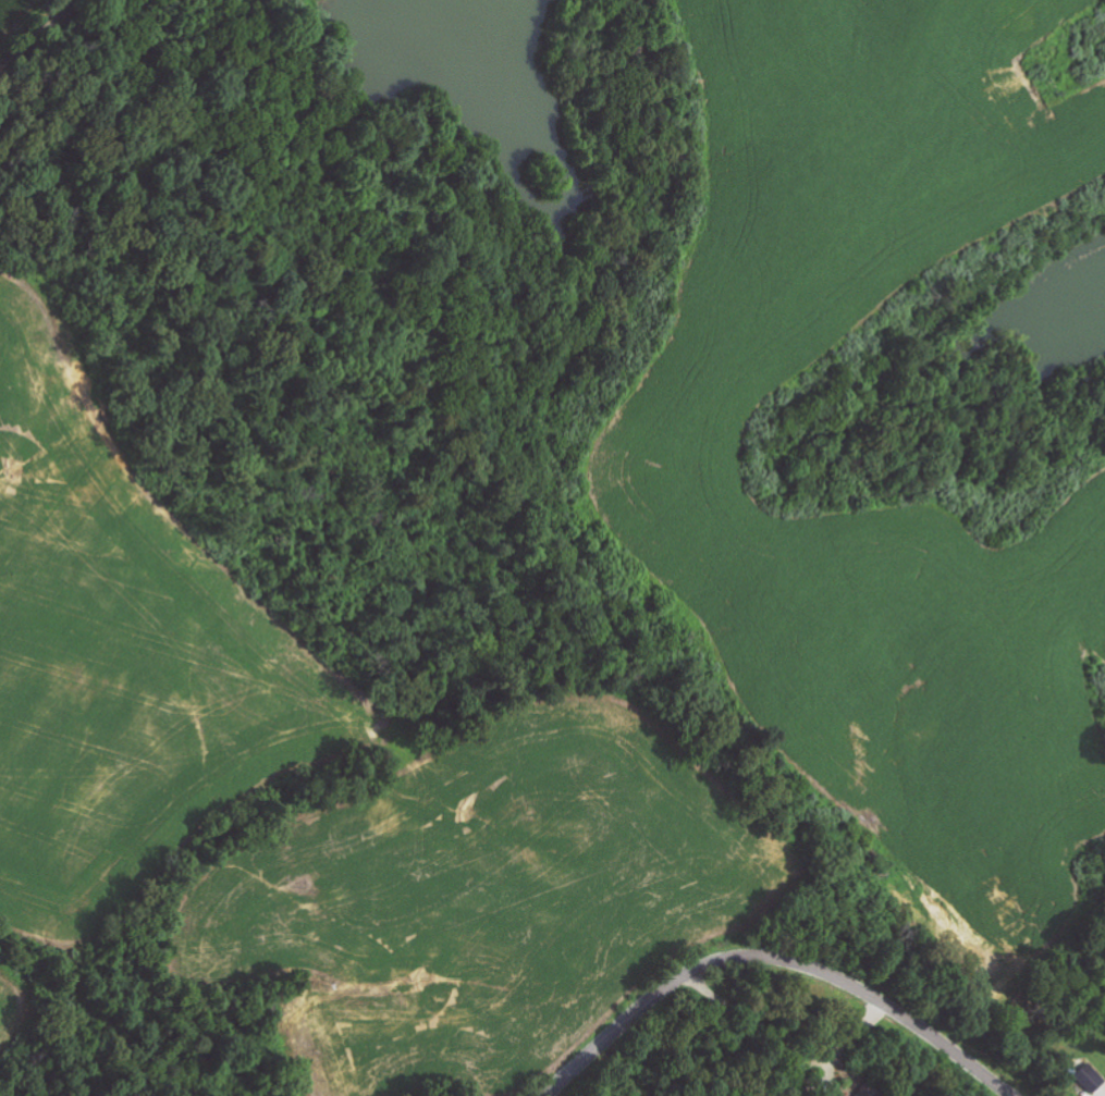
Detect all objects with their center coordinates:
road: (40, 37)
road: (773, 961)
building: (1092, 1079)
building: (868, 1092)

